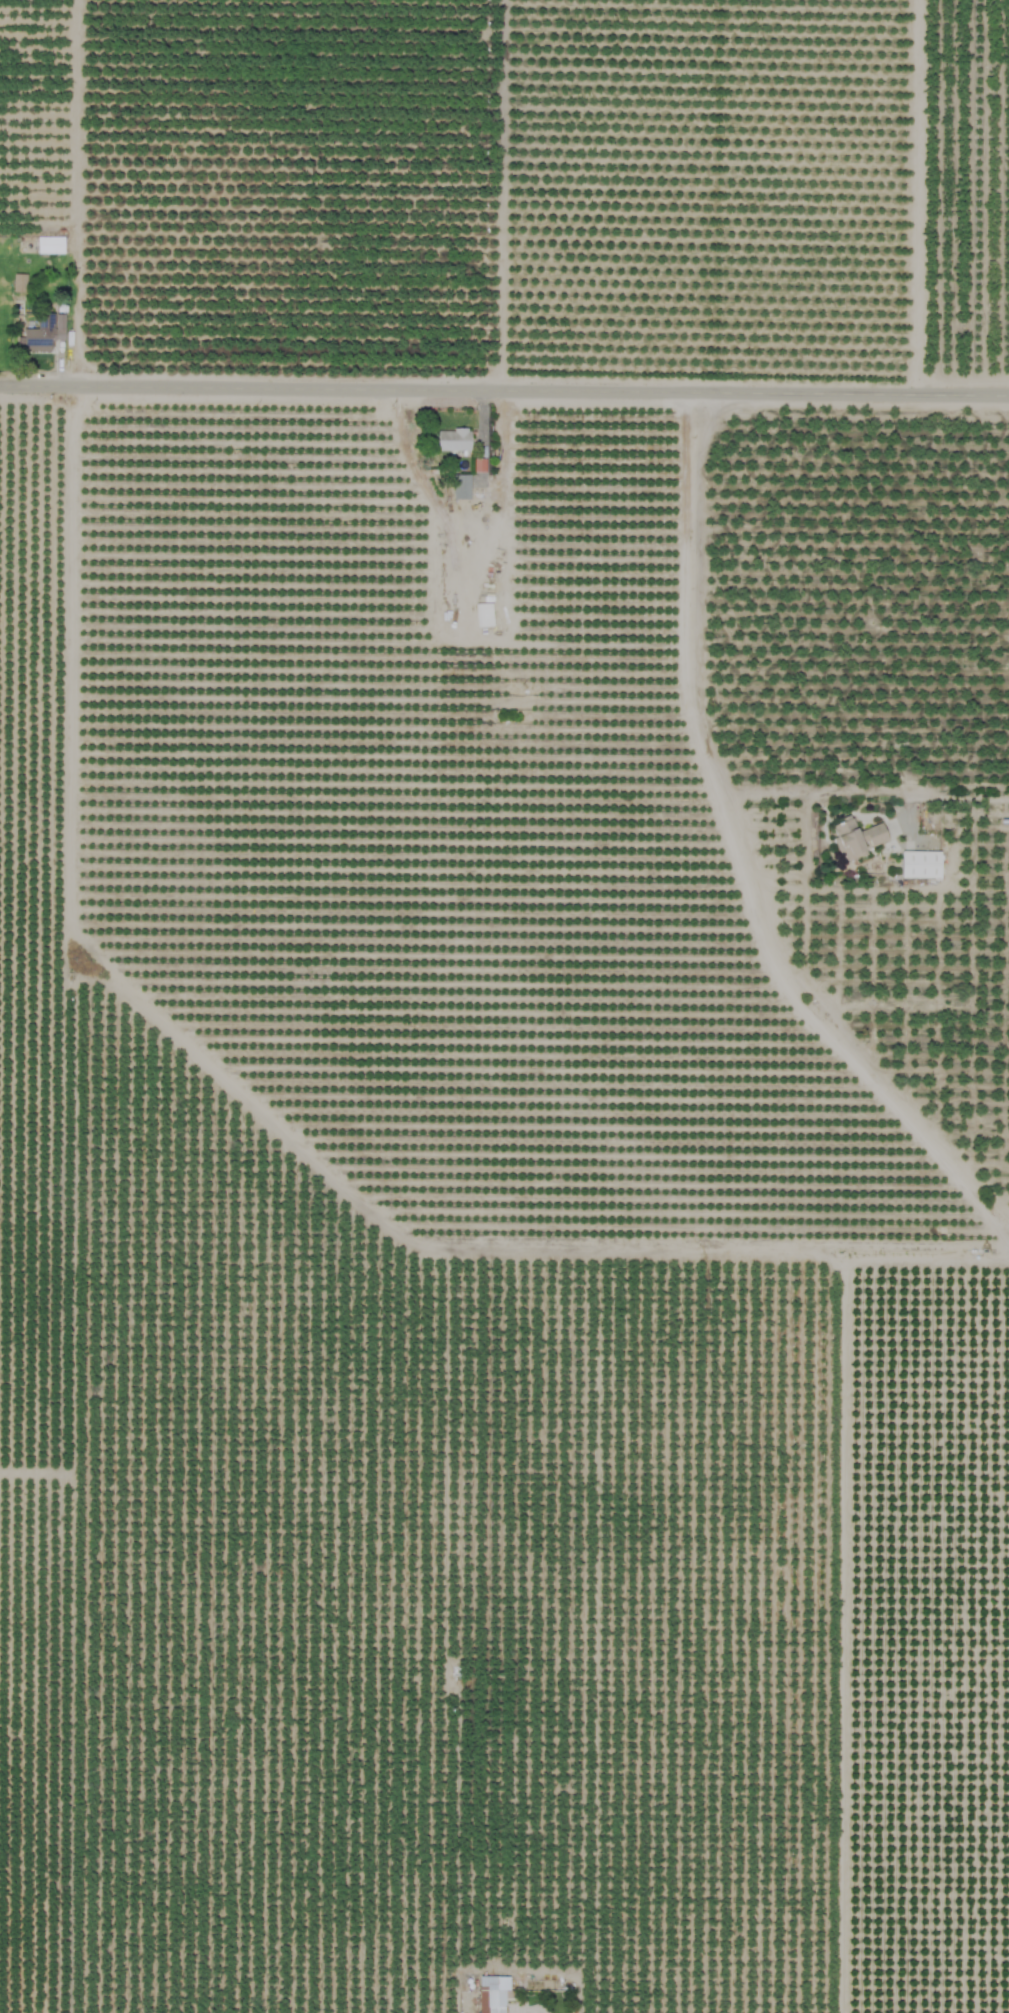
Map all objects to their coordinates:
road: (499, 192)
building: (50, 245)
building: (19, 283)
building: (34, 339)
road: (504, 386)
building: (452, 440)
building: (460, 487)
building: (483, 615)
road: (817, 787)
building: (856, 838)
road: (738, 853)
building: (920, 864)
crop: (504, 1006)
building: (492, 1993)

